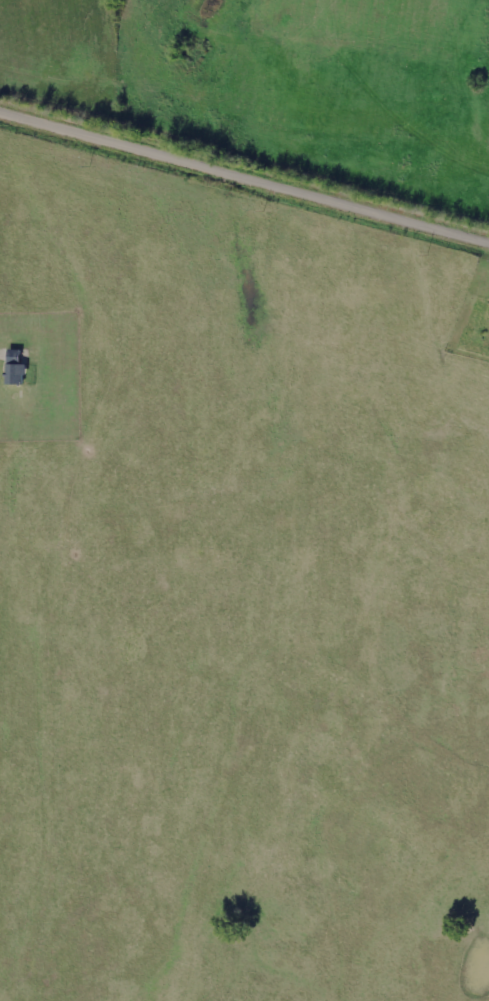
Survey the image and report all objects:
road: (244, 179)

